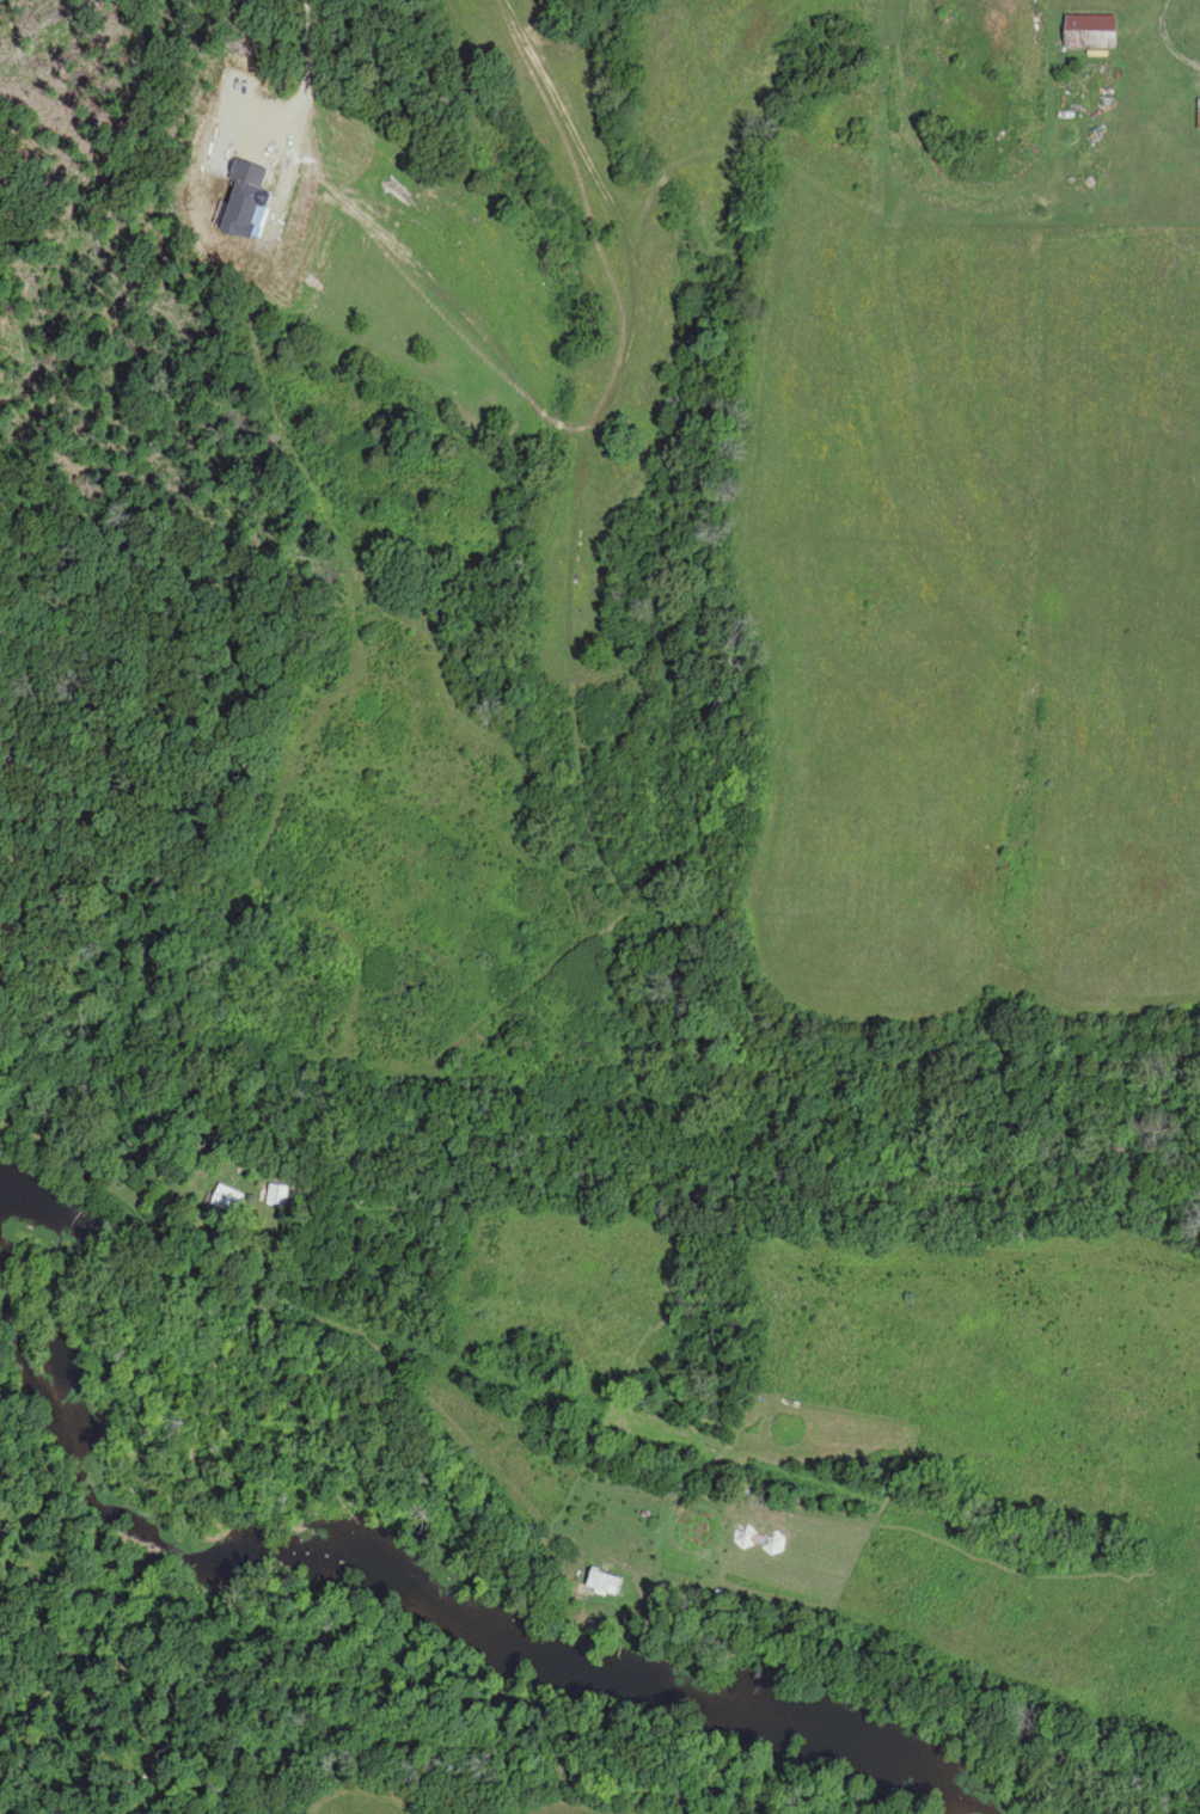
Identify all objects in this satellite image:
building: (1091, 30)
building: (280, 1195)
building: (231, 1200)
river: (386, 1570)
building: (608, 1583)

